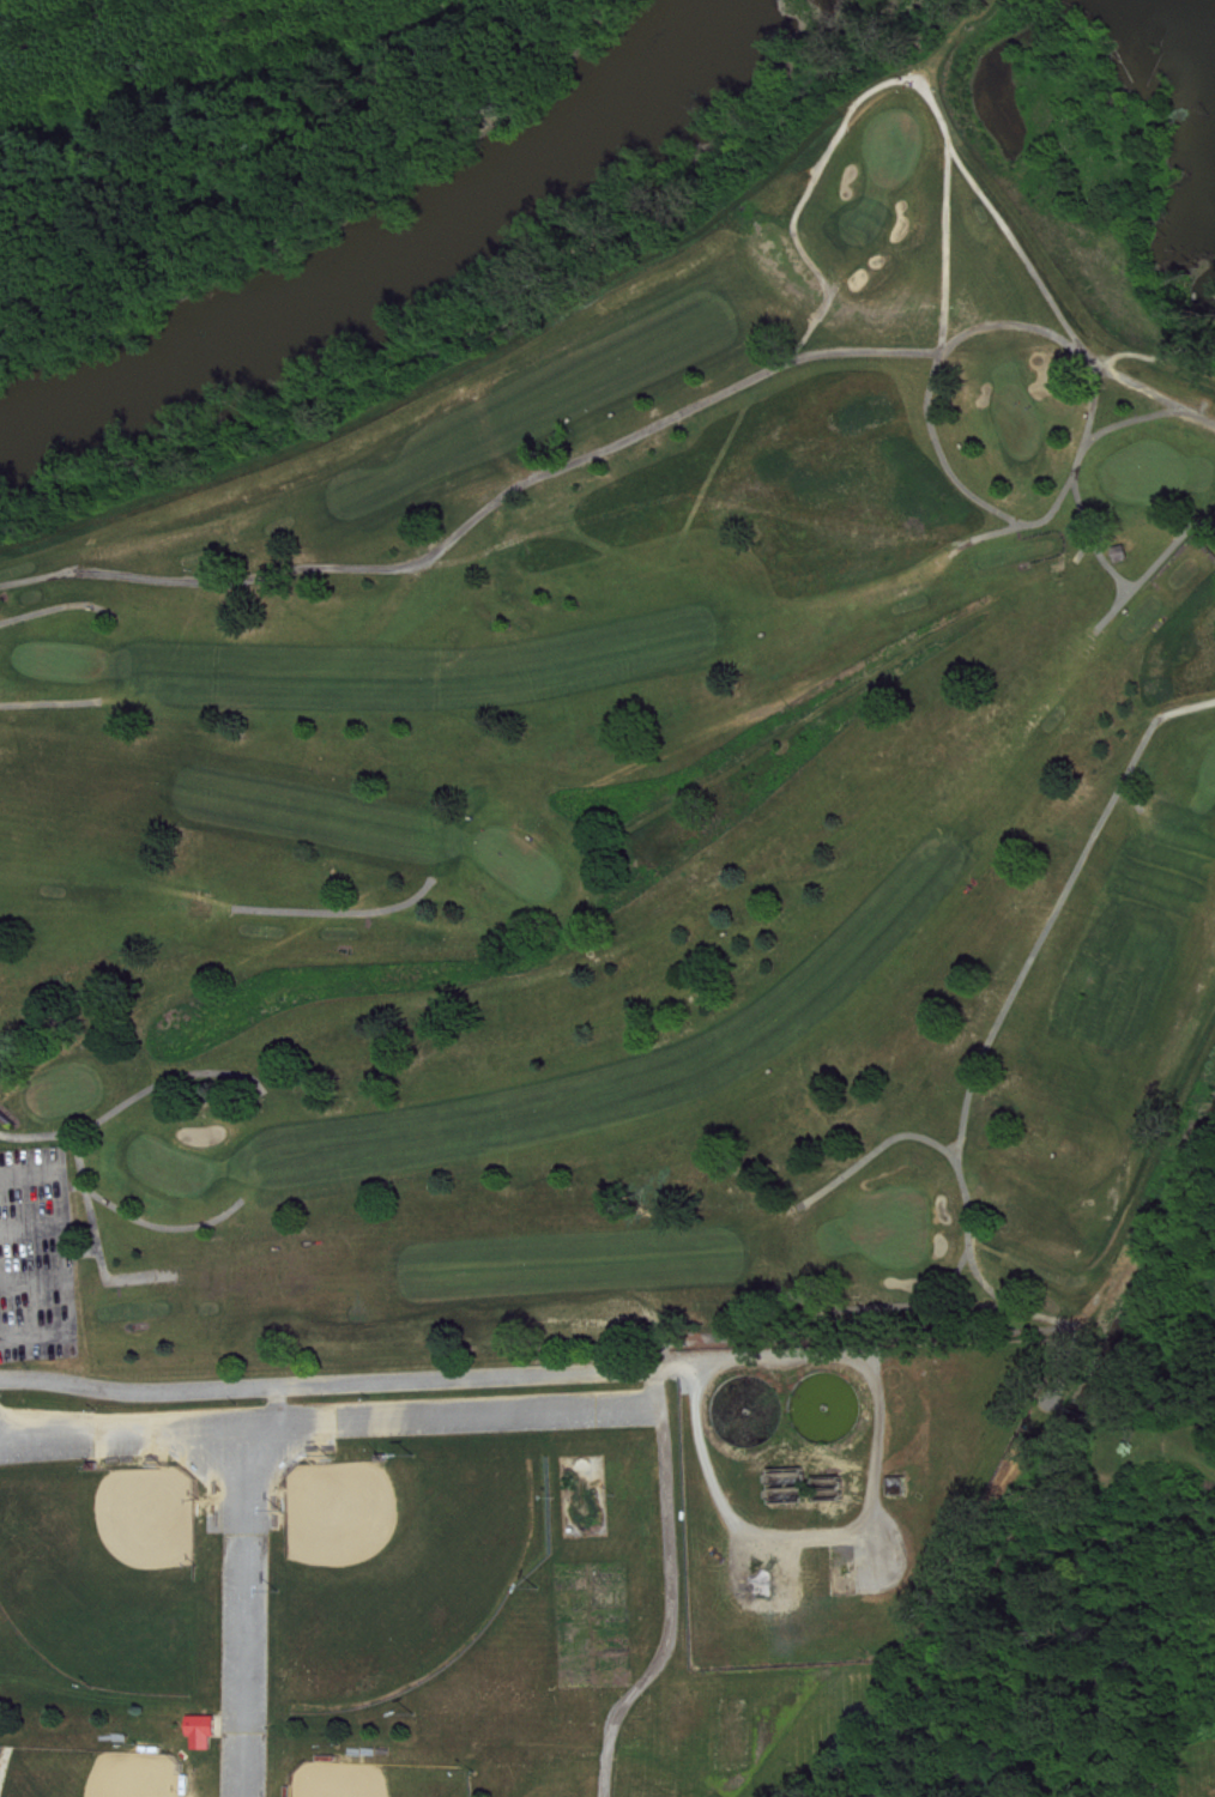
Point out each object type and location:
park: (899, 157)
river: (398, 273)
park: (1022, 429)
park: (1150, 483)
park: (66, 670)
park: (1213, 782)
park: (635, 837)
park: (522, 872)
building: (0, 1087)
park: (175, 1176)
park: (896, 1235)
road: (322, 1385)
road: (877, 1492)
park: (400, 1567)
park: (103, 1572)
road: (676, 1591)
park: (338, 1599)
parking lot: (244, 1607)
building: (1, 1699)
building: (206, 1739)
park: (1197, 1769)
park: (89, 1775)
park: (379, 1781)

